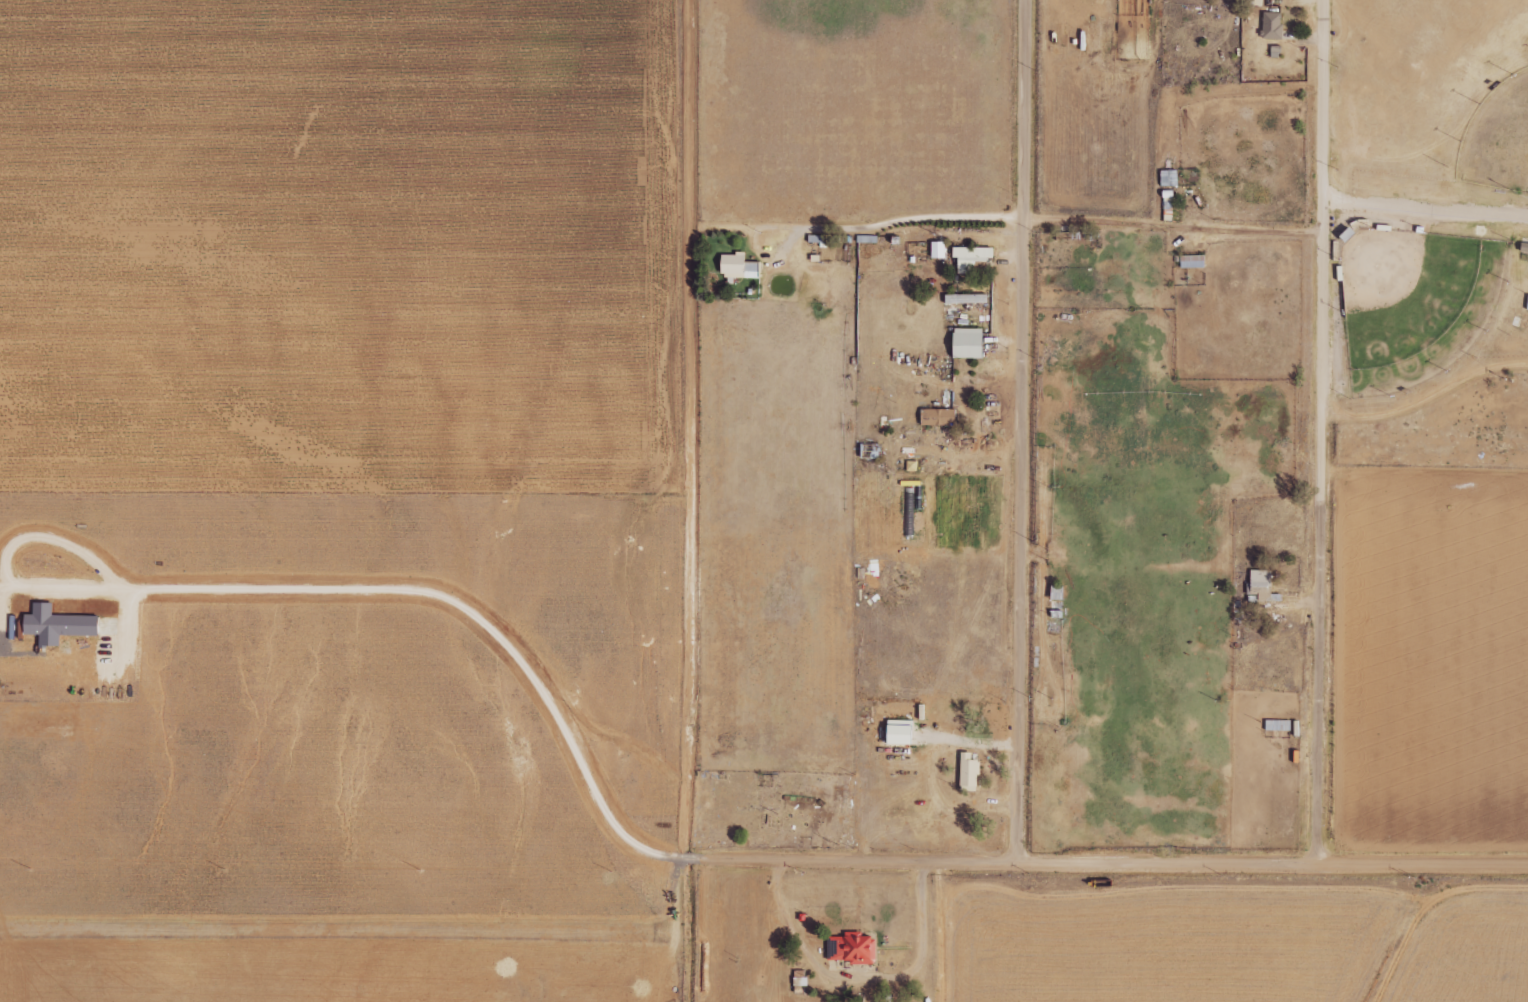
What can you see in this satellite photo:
building: (1272, 25)
park: (1501, 143)
building: (1169, 178)
park: (1429, 195)
road: (1424, 215)
road: (859, 221)
road: (1173, 228)
building: (939, 249)
building: (972, 257)
building: (739, 266)
building: (967, 298)
building: (1527, 308)
park: (1418, 311)
building: (969, 343)
road: (1427, 398)
building: (939, 417)
road: (1021, 429)
road: (1321, 431)
road: (670, 546)
building: (1261, 585)
building: (59, 624)
building: (1278, 724)
building: (969, 770)
road: (1098, 860)
building: (853, 948)

